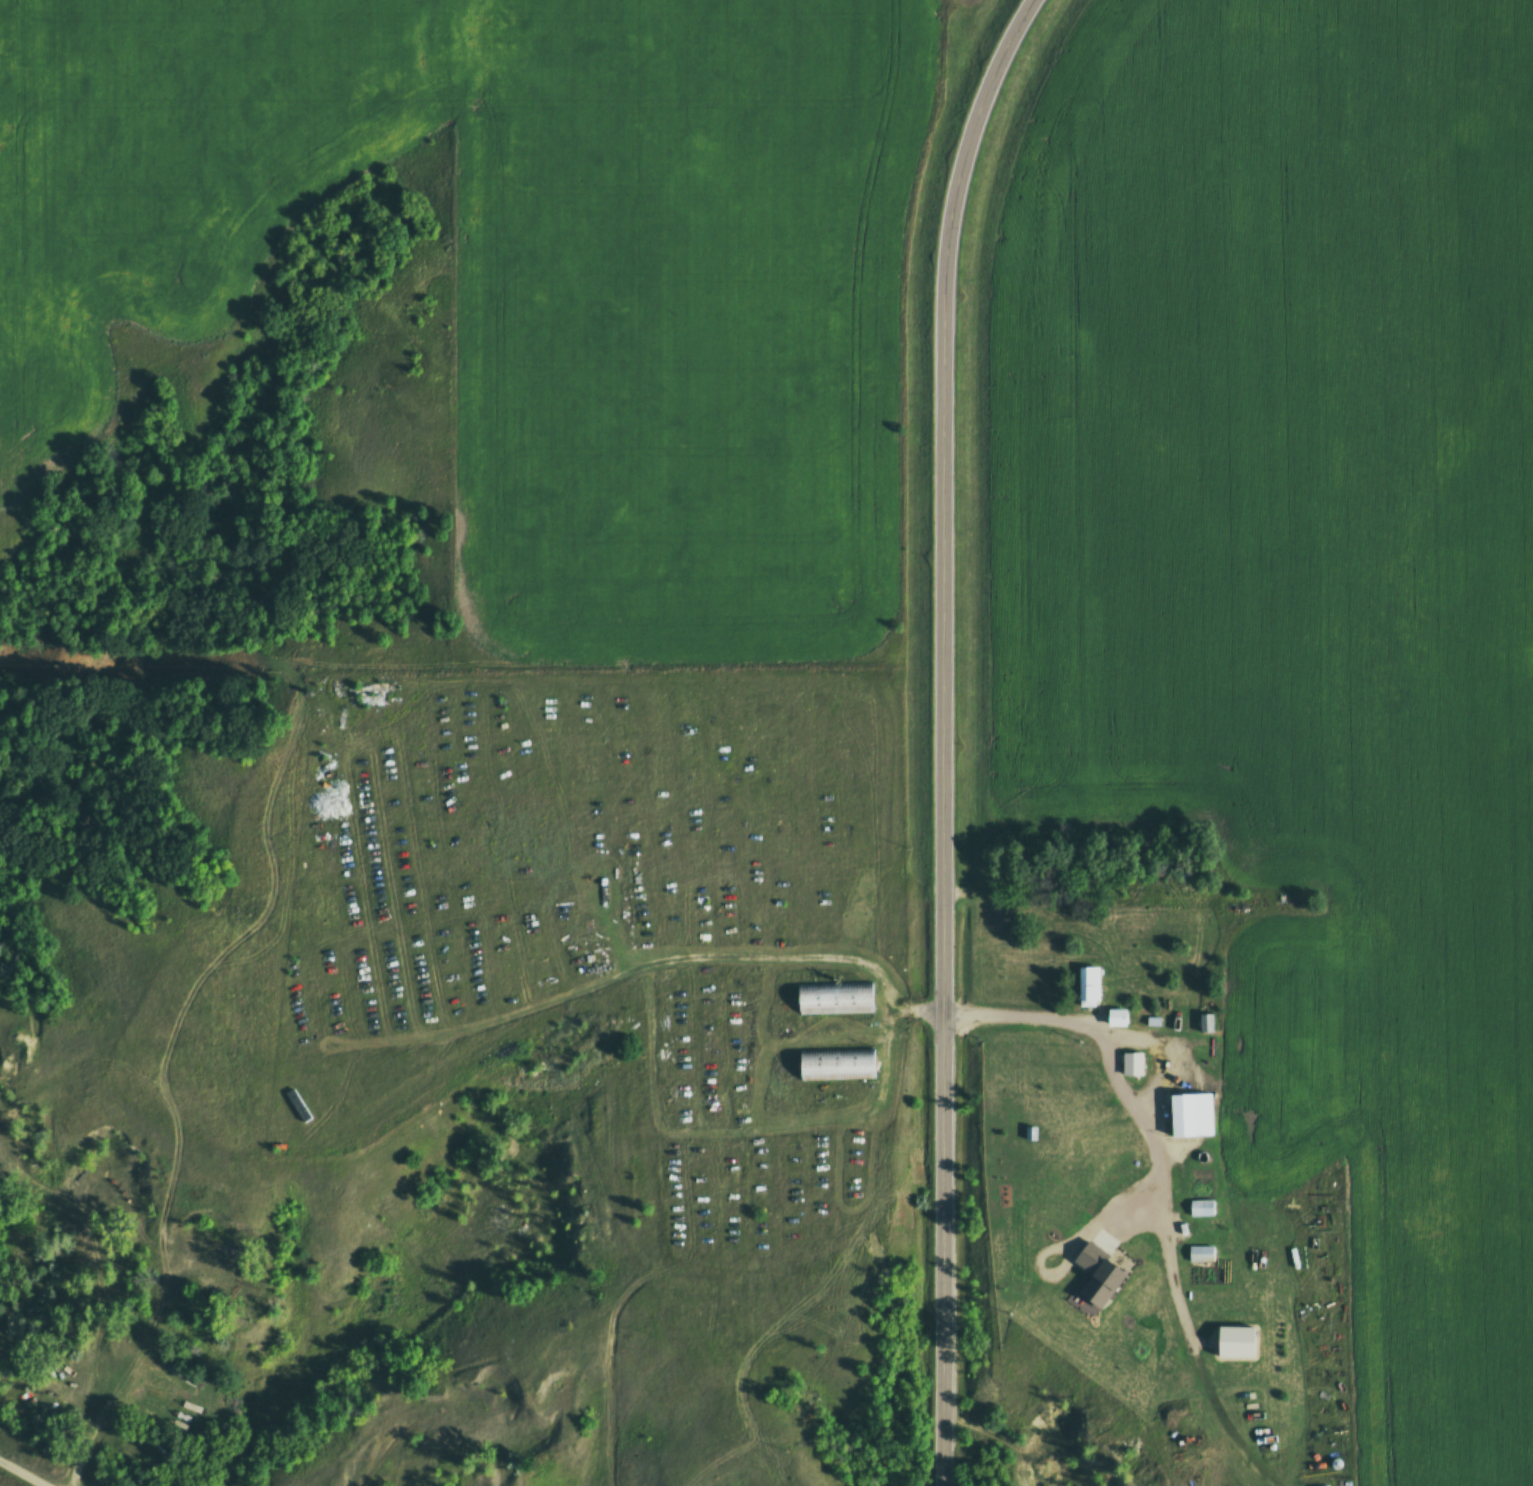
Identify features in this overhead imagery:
road: (944, 734)
building: (1088, 986)
building: (834, 999)
building: (1115, 1018)
building: (1204, 1023)
building: (1131, 1064)
building: (835, 1065)
building: (297, 1105)
building: (1190, 1115)
building: (1029, 1133)
building: (1200, 1255)
building: (1097, 1275)
building: (1234, 1342)

